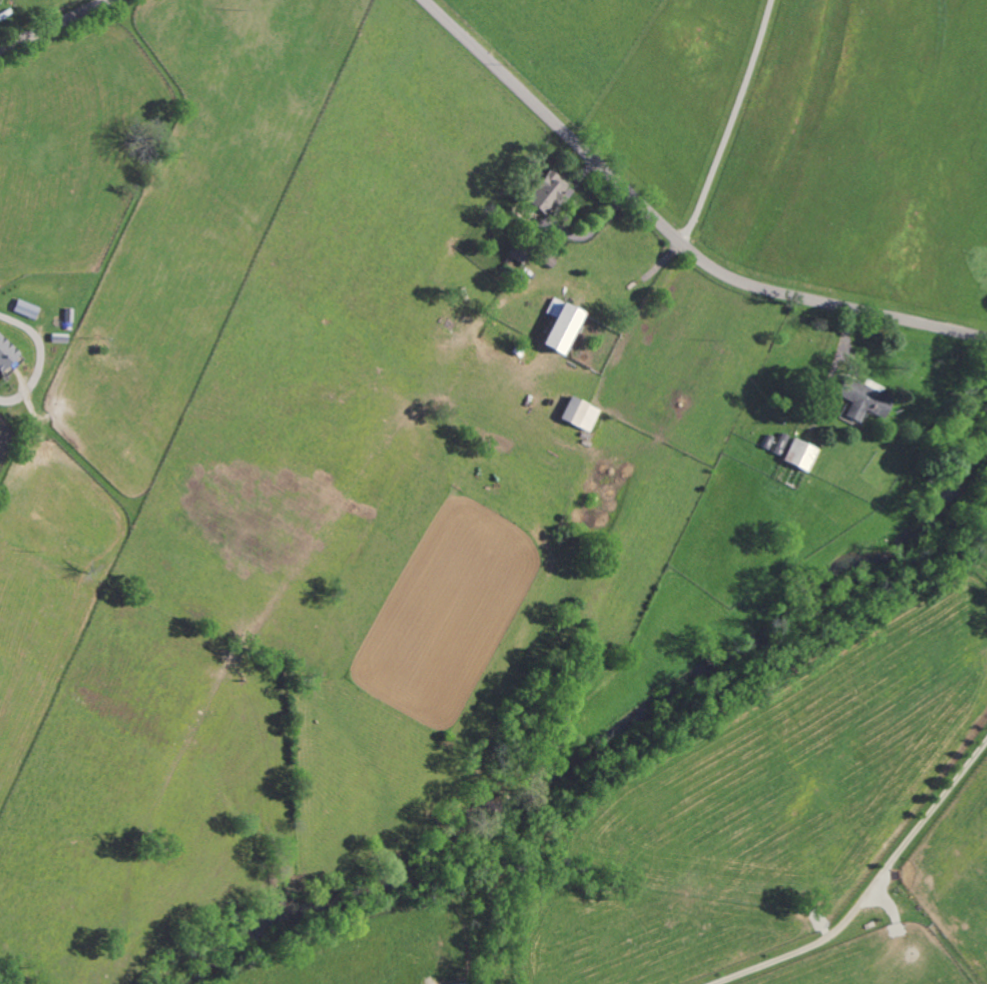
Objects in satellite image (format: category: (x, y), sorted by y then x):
road: (54, 24)
road: (729, 125)
building: (547, 192)
road: (668, 235)
building: (519, 252)
building: (26, 308)
building: (559, 325)
building: (5, 352)
road: (39, 358)
building: (865, 399)
building: (579, 413)
building: (799, 454)
road: (880, 887)

